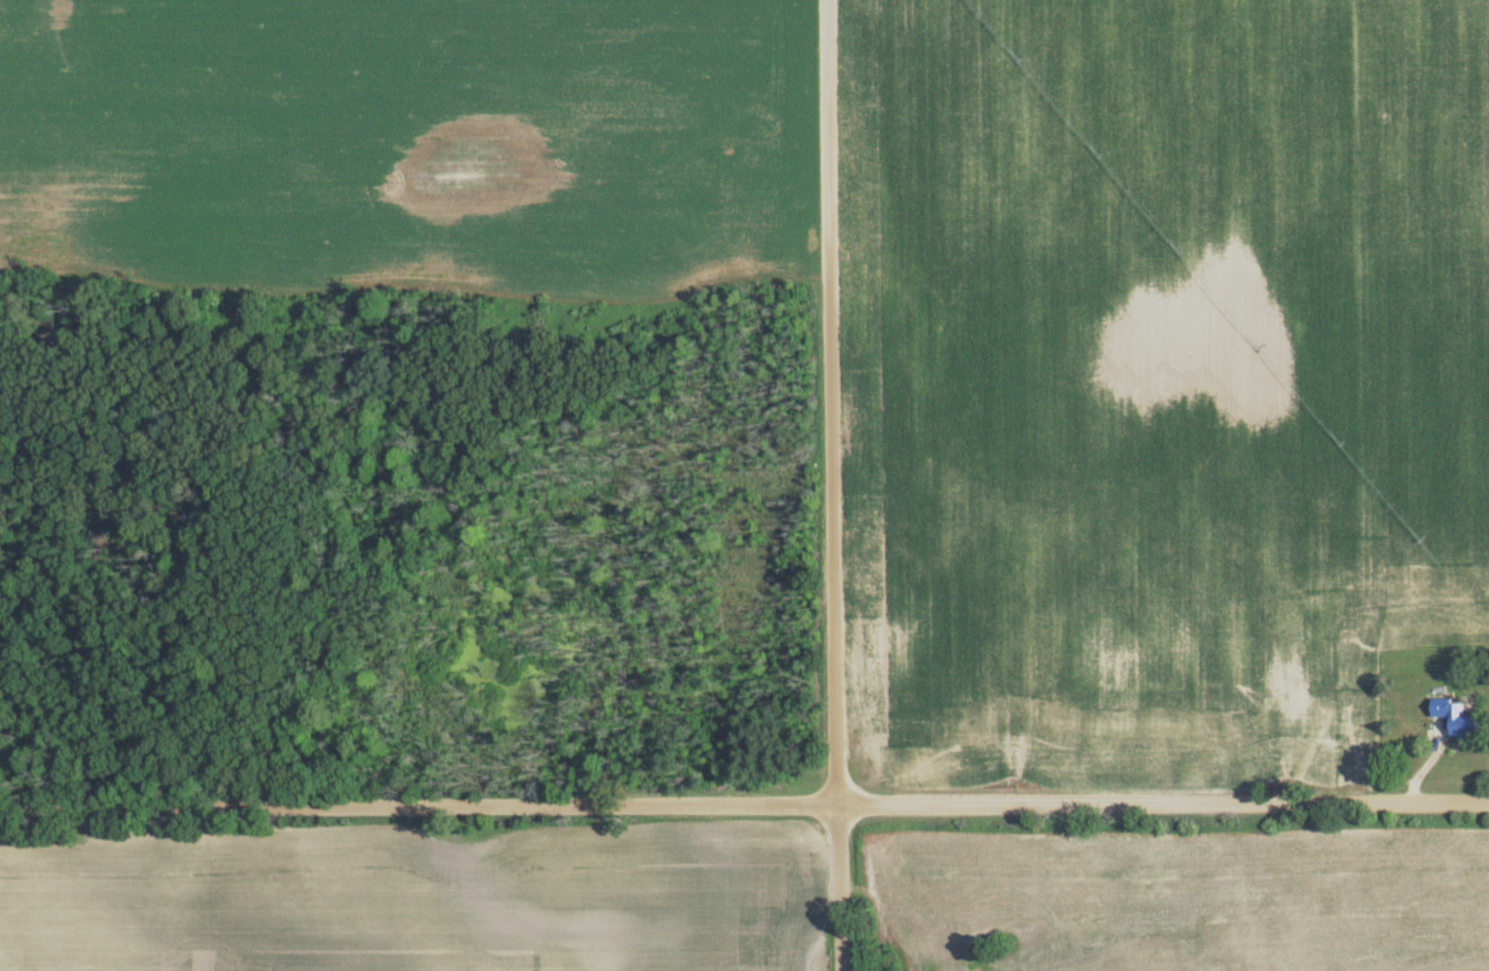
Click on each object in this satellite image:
road: (831, 485)
building: (1462, 719)
road: (744, 803)

